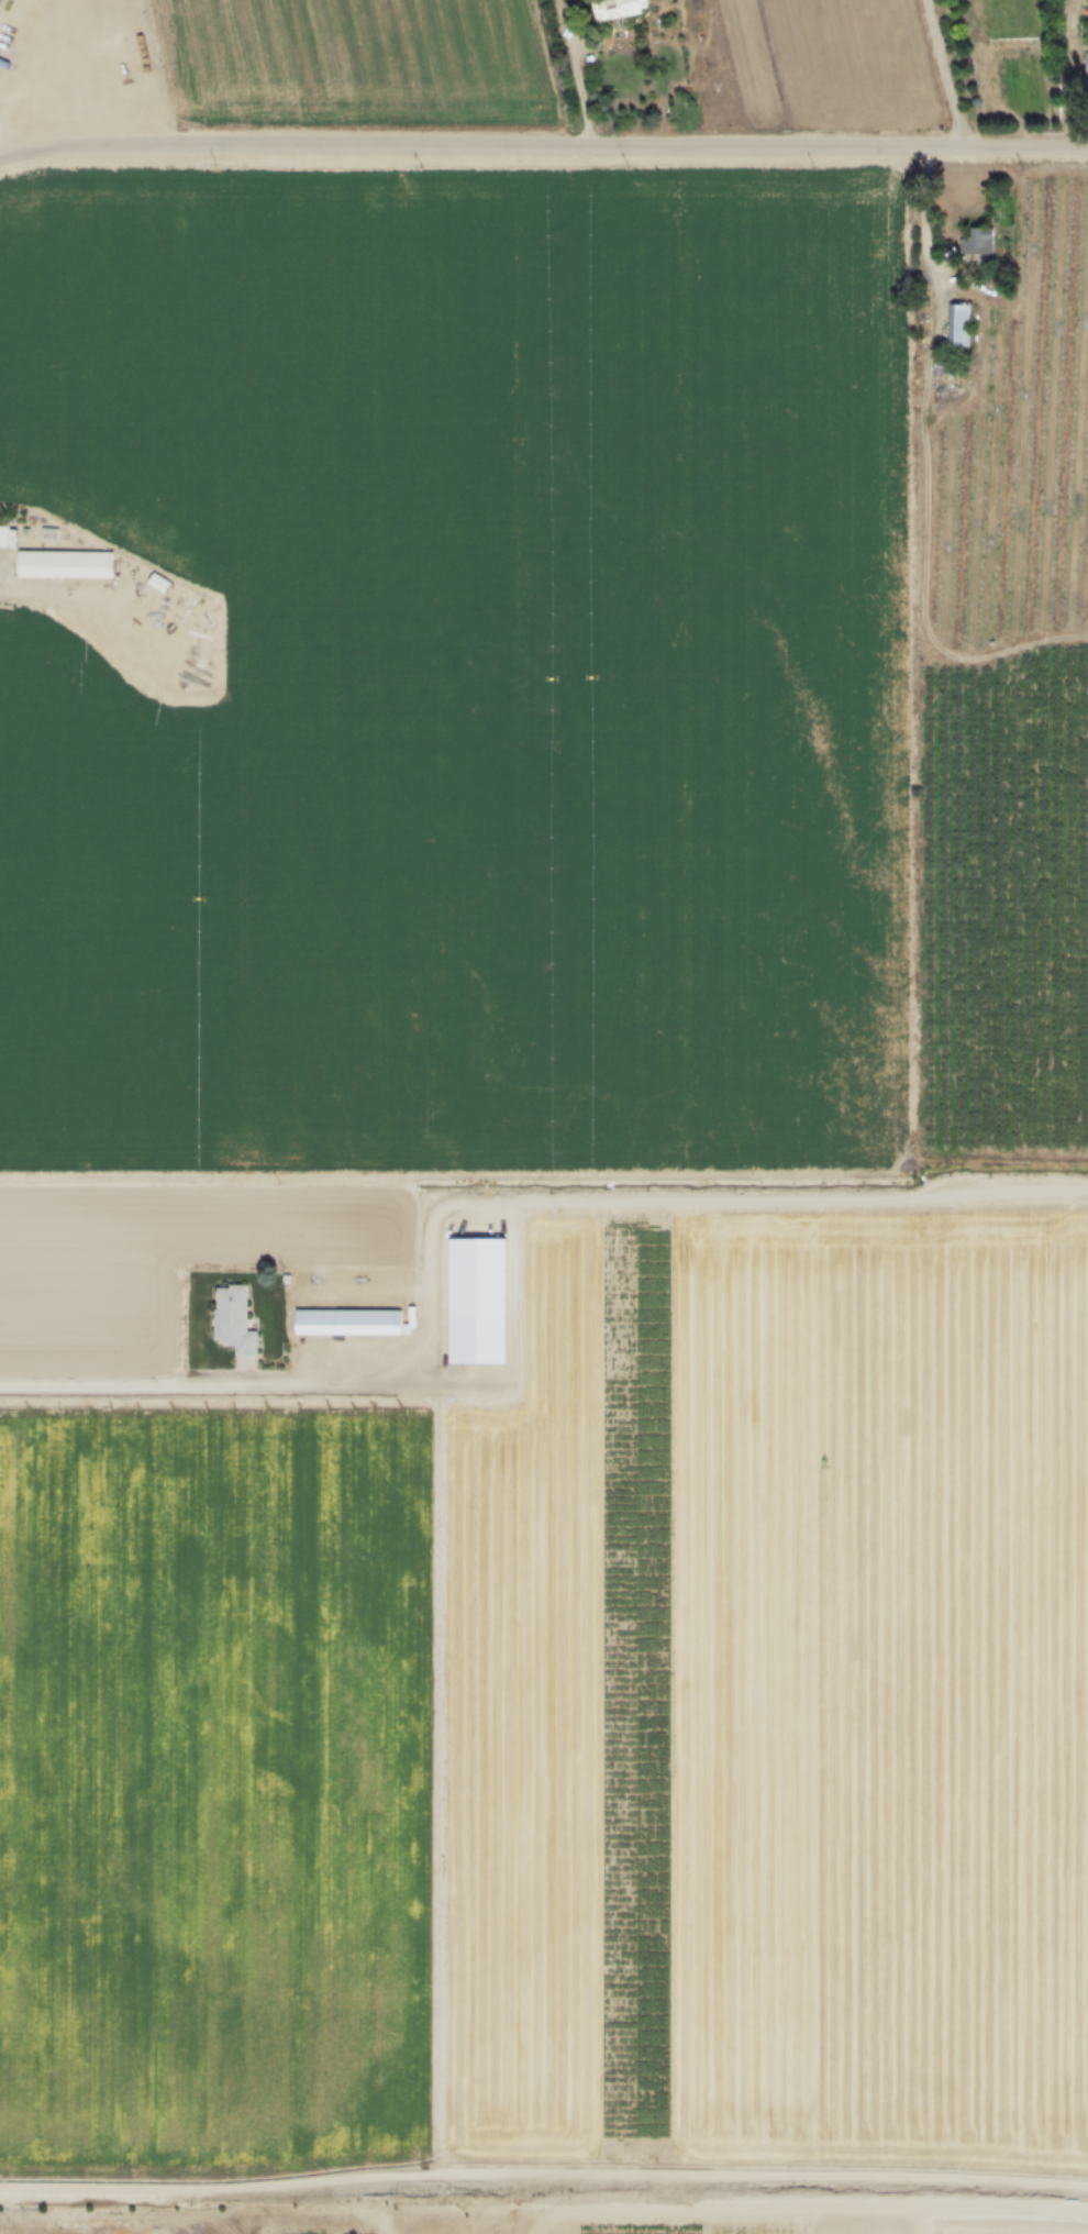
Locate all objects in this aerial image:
building: (613, 9)
road: (576, 75)
road: (955, 77)
road: (1075, 77)
road: (59, 86)
road: (543, 151)
building: (975, 240)
building: (956, 323)
road: (926, 478)
building: (63, 564)
building: (157, 582)
road: (27, 591)
road: (546, 1182)
building: (476, 1300)
building: (232, 1319)
building: (346, 1323)
road: (319, 1387)

